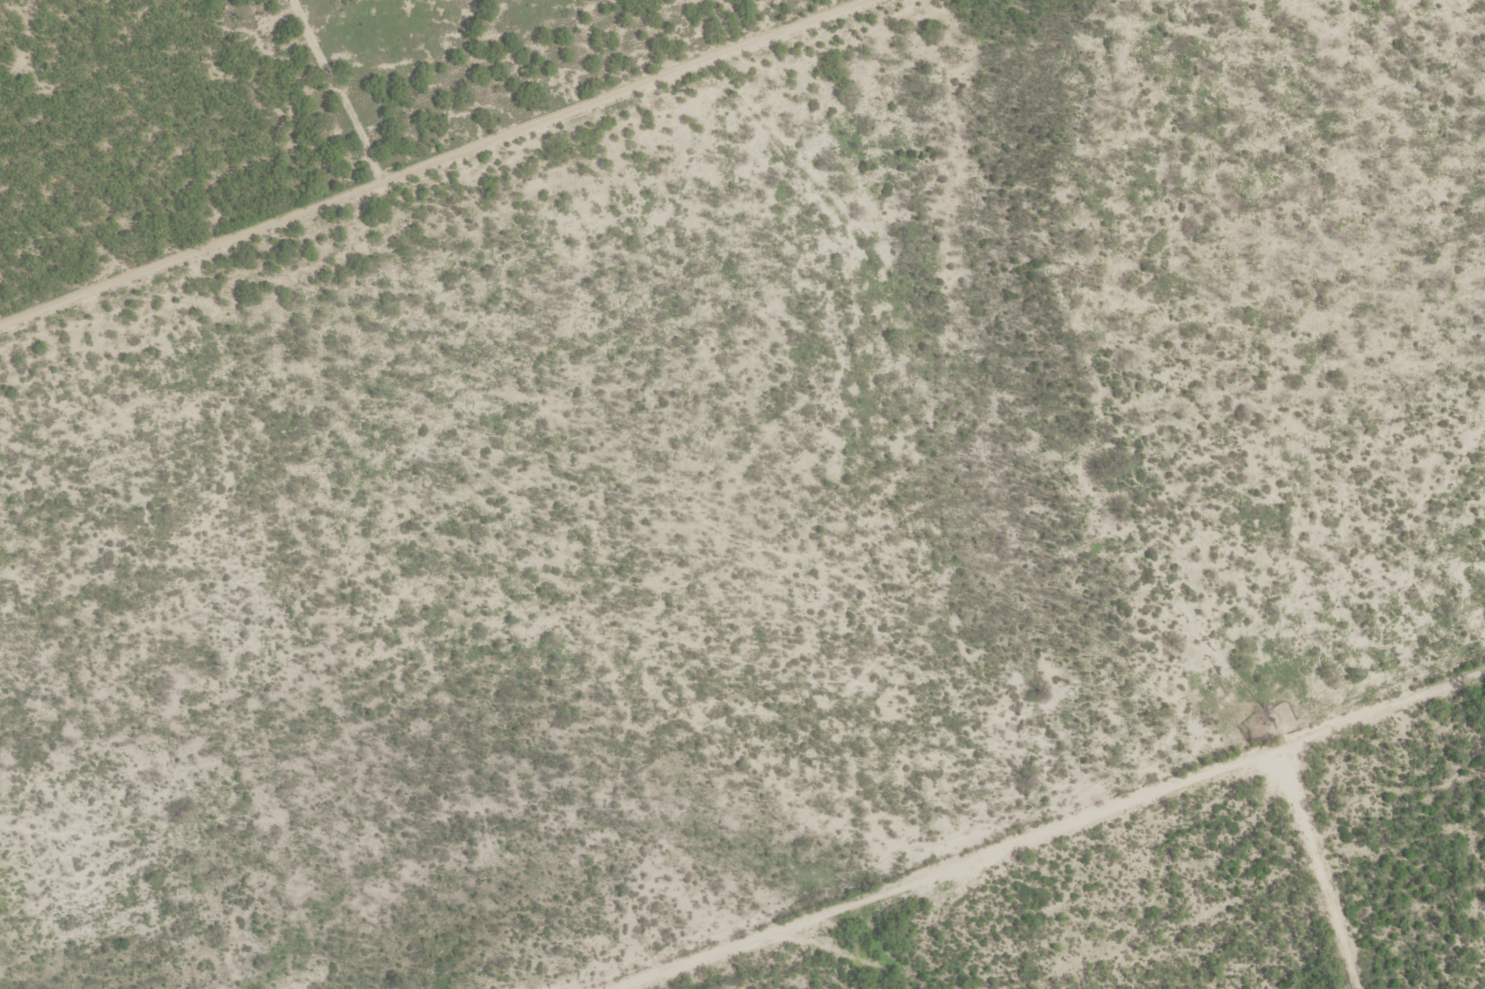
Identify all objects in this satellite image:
road: (1047, 828)

